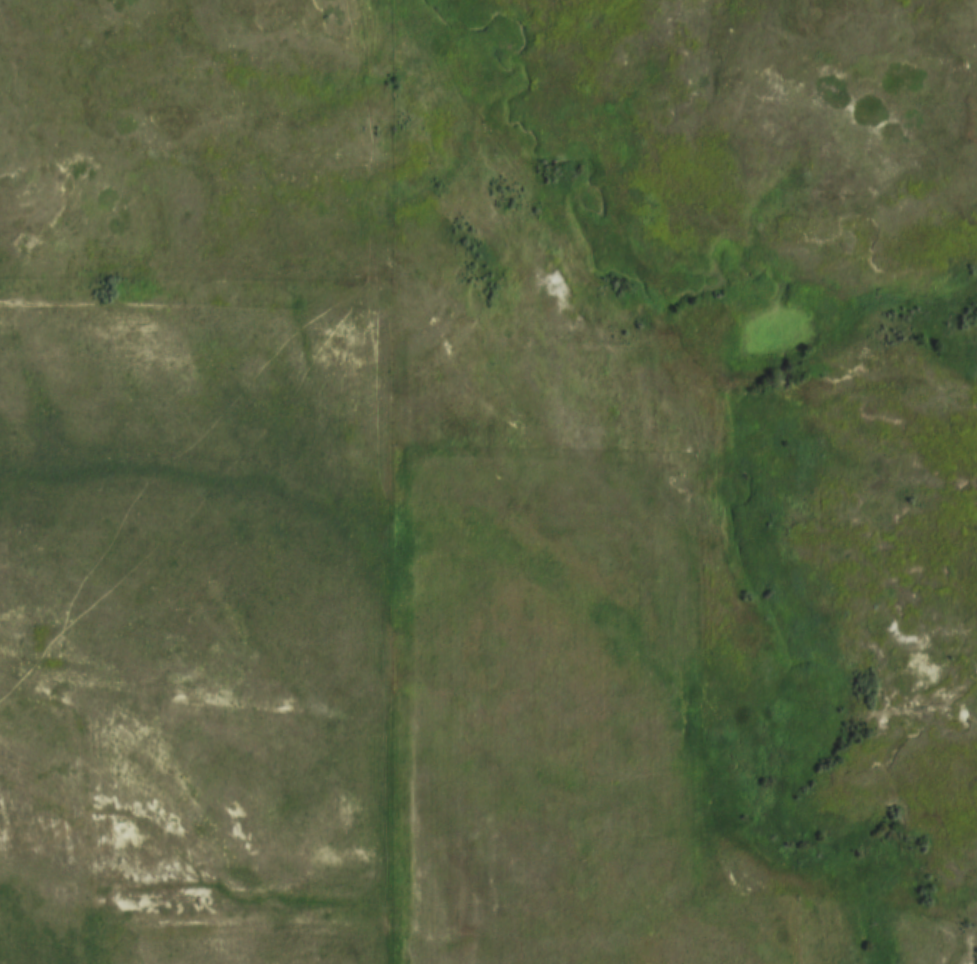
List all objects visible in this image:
road: (37, 699)

